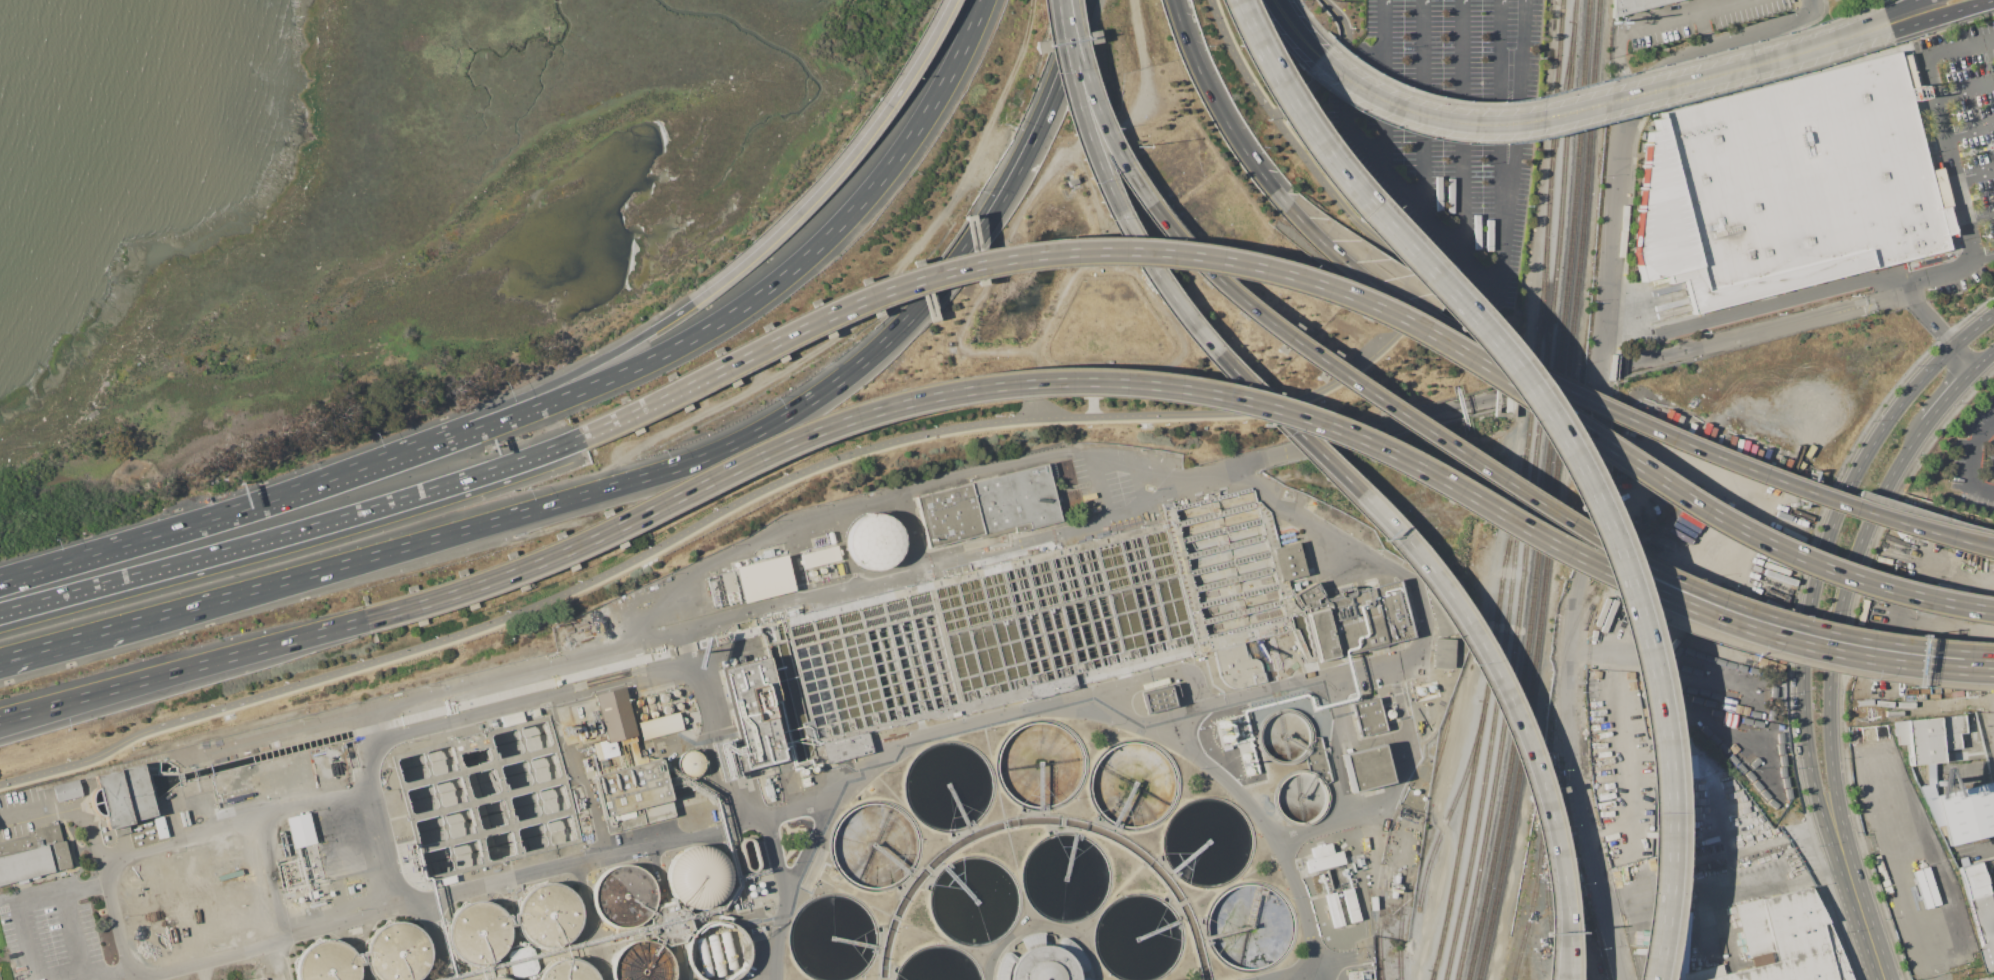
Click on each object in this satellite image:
road: (1880, 0)
building: (1633, 5)
road: (1816, 5)
road: (1828, 5)
road: (1908, 10)
road: (1676, 16)
road: (1940, 16)
road: (1314, 21)
road: (1293, 30)
road: (1807, 45)
road: (1956, 51)
building: (1922, 52)
road: (1059, 56)
road: (1067, 57)
road: (1238, 62)
road: (1800, 73)
road: (1602, 81)
railway: (1584, 87)
building: (1973, 89)
road: (1961, 92)
railway: (1559, 94)
road: (1598, 103)
road: (1422, 105)
road: (1656, 105)
road: (1347, 106)
railway: (1563, 106)
road: (1219, 109)
parking lot: (1447, 125)
road: (1462, 126)
road: (1517, 128)
road: (1966, 132)
parking lot: (1963, 144)
road: (1969, 152)
road: (1944, 161)
road: (839, 167)
road: (1972, 177)
building: (1070, 179)
building: (1790, 185)
road: (1151, 207)
road: (1977, 217)
road: (1016, 218)
road: (1982, 258)
road: (1251, 266)
road: (1609, 267)
road: (1481, 275)
road: (1065, 287)
road: (1889, 299)
road: (1788, 301)
road: (871, 304)
road: (1925, 315)
road: (720, 319)
road: (1167, 319)
road: (1973, 331)
road: (1741, 336)
road: (1204, 342)
road: (1964, 359)
road: (1984, 361)
road: (1502, 367)
road: (1931, 371)
road: (981, 387)
road: (1949, 397)
road: (515, 398)
road: (1604, 409)
road: (1369, 431)
road: (891, 439)
road: (1974, 453)
road: (1106, 459)
parking lot: (1976, 461)
road: (650, 474)
road: (1139, 485)
road: (1982, 491)
railway: (1534, 492)
railway: (1556, 492)
building: (990, 506)
railway: (1542, 526)
road: (170, 531)
road: (293, 532)
building: (873, 541)
road: (1976, 544)
road: (1976, 546)
building: (820, 557)
road: (1634, 561)
building: (1288, 562)
building: (764, 579)
road: (3, 580)
railway: (1512, 586)
building: (1306, 595)
road: (1936, 601)
road: (719, 617)
road: (1809, 621)
building: (1359, 622)
road: (1791, 643)
road: (64, 644)
building: (1442, 653)
road: (4, 661)
road: (1377, 662)
road: (1833, 662)
road: (182, 669)
road: (671, 669)
road: (607, 678)
road: (701, 683)
road: (100, 696)
building: (1159, 698)
building: (534, 711)
road: (471, 715)
building: (616, 715)
building: (1368, 717)
building: (510, 718)
railway: (1480, 718)
building: (749, 720)
building: (660, 726)
building: (1900, 732)
road: (926, 734)
building: (1284, 736)
road: (688, 742)
building: (846, 747)
building: (604, 750)
road: (1527, 758)
road: (721, 760)
building: (1318, 760)
building: (688, 762)
building: (276, 765)
wastewater plant: (828, 765)
building: (1366, 768)
road: (574, 773)
road: (1395, 786)
building: (68, 790)
building: (125, 796)
building: (634, 796)
building: (1300, 797)
railway: (1450, 804)
road: (313, 805)
road: (67, 808)
road: (369, 809)
road: (1579, 810)
building: (1966, 812)
road: (343, 827)
building: (161, 828)
road: (765, 829)
building: (299, 830)
road: (1273, 835)
road: (1373, 847)
building: (748, 854)
building: (34, 855)
road: (120, 855)
building: (1324, 858)
road: (559, 867)
building: (1991, 867)
road: (656, 869)
railway: (1536, 869)
railway: (1555, 869)
building: (697, 877)
storage tank: (697, 877)
building: (1973, 880)
road: (1653, 888)
road: (1750, 889)
road: (1853, 892)
building: (622, 896)
storage tank: (622, 896)
road: (20, 899)
building: (1351, 905)
building: (1334, 909)
building: (547, 915)
storage tank: (547, 915)
road: (591, 921)
building: (671, 924)
railway: (1402, 924)
building: (1985, 925)
railway: (1477, 928)
railway: (1382, 929)
building: (478, 932)
storage tank: (478, 932)
road: (74, 933)
road: (435, 940)
building: (1787, 940)
road: (271, 943)
road: (1561, 944)
road: (1555, 945)
road: (1876, 948)
building: (718, 951)
building: (397, 952)
storage tank: (397, 952)
road: (276, 958)
building: (1041, 960)
building: (327, 962)
storage tank: (327, 962)
building: (643, 962)
storage tank: (643, 962)
road: (680, 963)
building: (569, 971)
storage tank: (569, 971)
road: (1938, 971)
road: (1288, 974)
road: (100, 975)
railway: (1431, 975)
building: (510, 977)
building: (496, 978)
storage tank: (496, 978)
building: (1356, 979)

